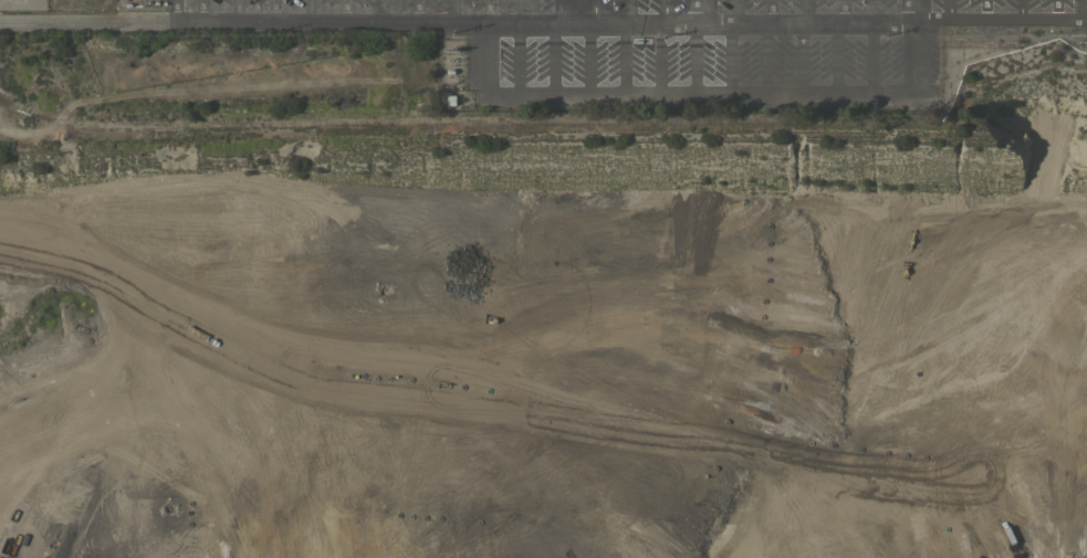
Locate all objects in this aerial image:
road: (912, 9)
road: (947, 9)
road: (984, 9)
road: (1020, 9)
road: (1055, 9)
road: (1079, 9)
road: (416, 10)
road: (452, 10)
road: (487, 10)
road: (523, 10)
road: (557, 10)
road: (593, 10)
road: (628, 10)
road: (663, 10)
road: (699, 10)
road: (735, 10)
road: (770, 10)
road: (803, 10)
road: (842, 10)
road: (875, 10)
road: (200, 11)
road: (236, 11)
road: (271, 11)
road: (307, 11)
road: (344, 11)
road: (379, 11)
road: (543, 21)
parking lot: (688, 39)
road: (798, 56)
road: (834, 56)
road: (868, 56)
road: (907, 56)
road: (482, 57)
road: (693, 57)
road: (730, 57)
road: (763, 57)
road: (588, 59)
road: (621, 59)
road: (659, 59)
road: (516, 60)
road: (552, 60)
road: (707, 95)
quarry: (535, 309)

